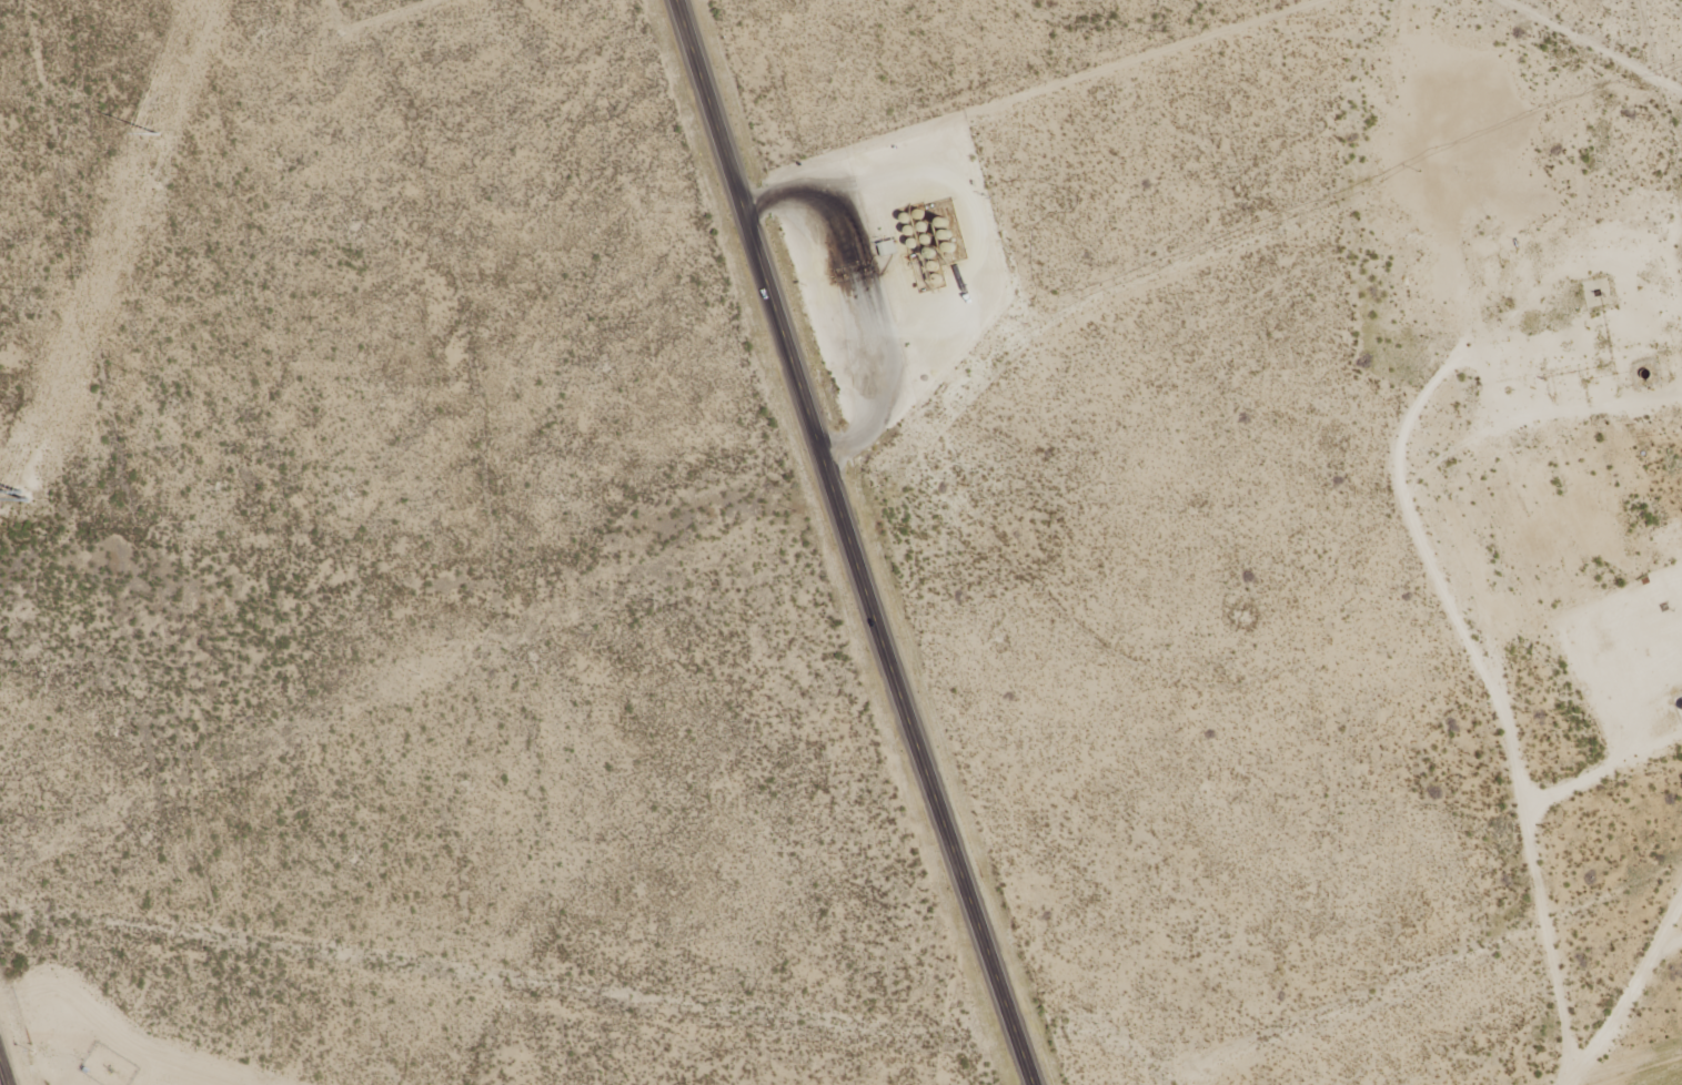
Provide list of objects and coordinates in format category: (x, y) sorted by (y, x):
road: (855, 542)
road: (1494, 749)
road: (1625, 988)
road: (4, 1071)

